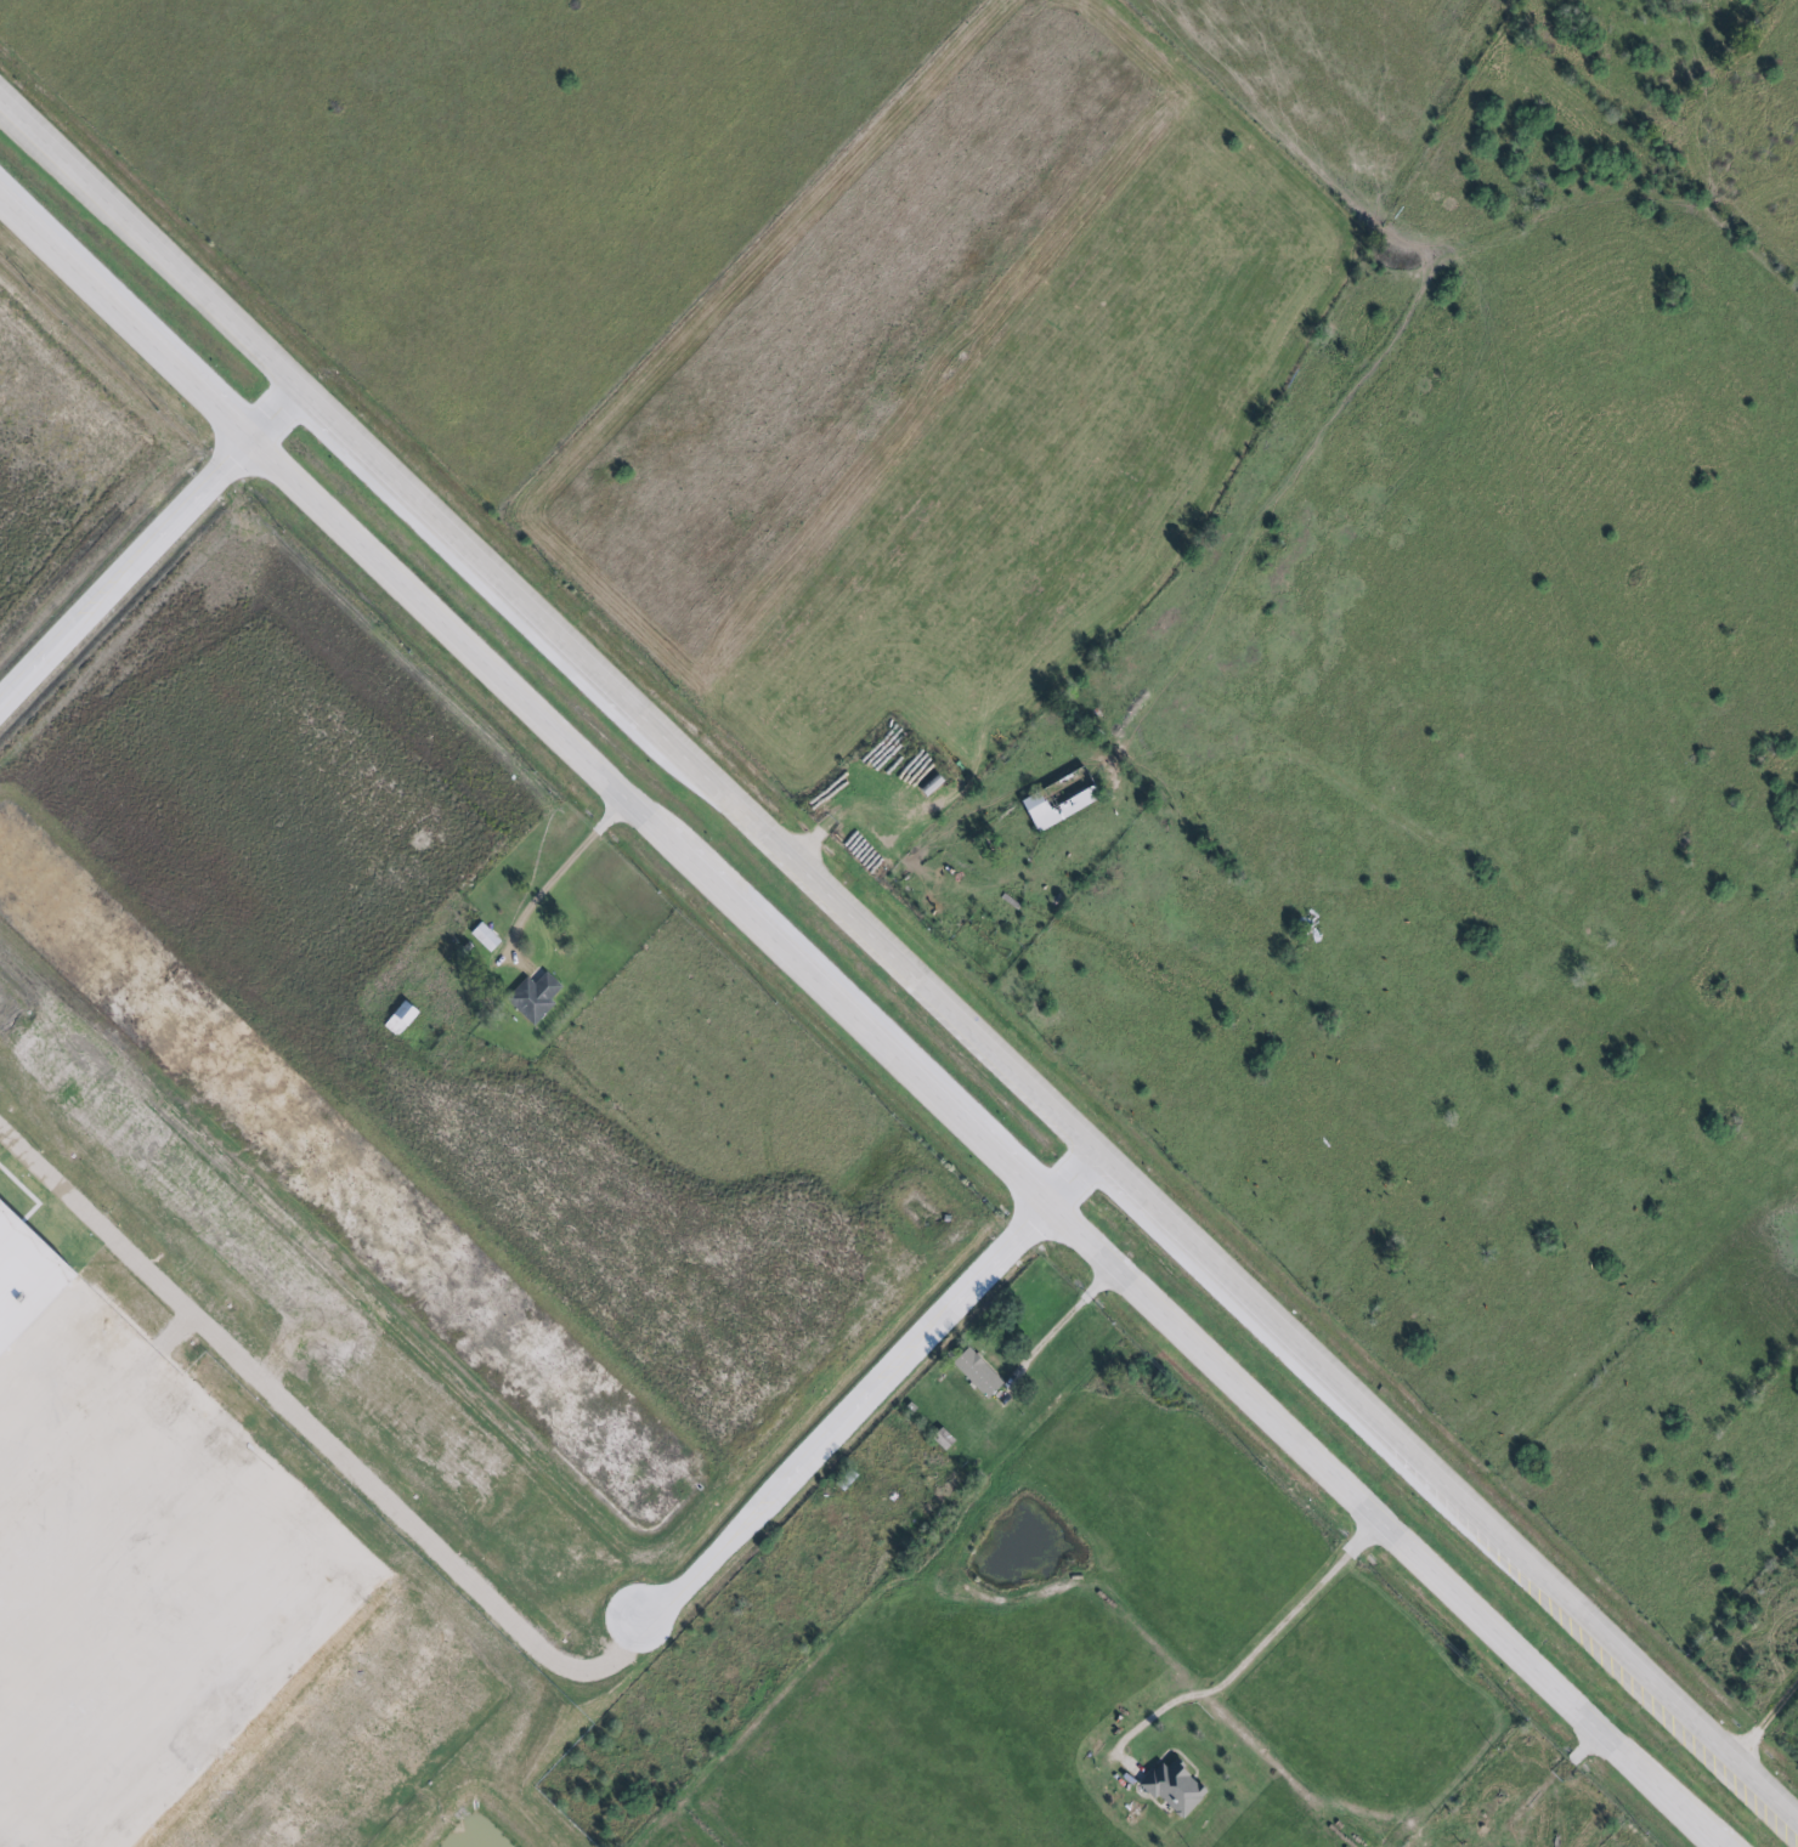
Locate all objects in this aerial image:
road: (275, 419)
road: (120, 574)
building: (926, 786)
building: (1048, 810)
road: (550, 884)
building: (486, 937)
road: (898, 957)
building: (537, 997)
road: (858, 1031)
building: (87, 1056)
road: (1061, 1319)
building: (972, 1372)
road: (872, 1388)
building: (939, 1439)
building: (132, 1570)
road: (1259, 1651)
road: (1766, 1719)
building: (1170, 1789)

